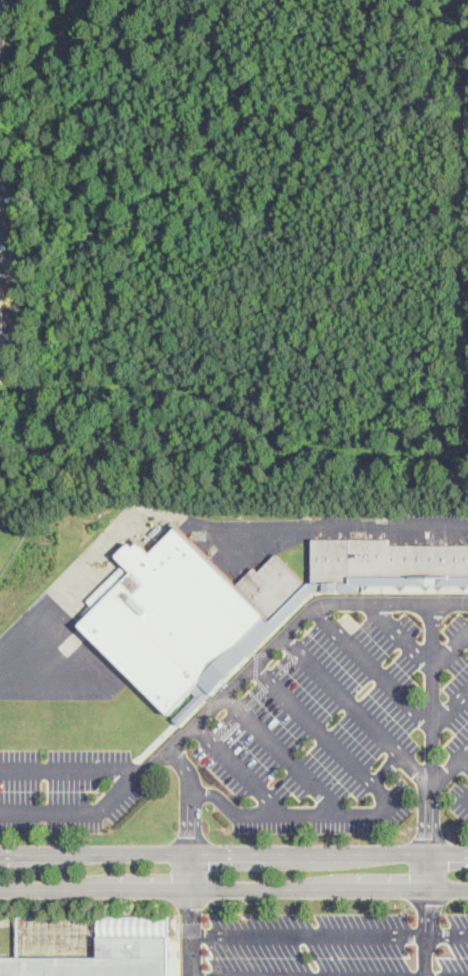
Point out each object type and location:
building: (3, 47)
building: (1, 305)
road: (203, 524)
building: (336, 564)
building: (411, 564)
building: (275, 588)
building: (175, 622)
road: (280, 634)
road: (419, 654)
road: (369, 667)
road: (449, 707)
road: (355, 708)
parking lot: (347, 724)
road: (429, 746)
road: (280, 752)
road: (463, 759)
road: (448, 764)
road: (386, 767)
road: (131, 779)
parking lot: (66, 789)
road: (233, 809)
road: (371, 809)
road: (191, 812)
road: (234, 852)
road: (234, 888)
road: (201, 901)
road: (226, 901)
road: (329, 931)
road: (192, 932)
road: (427, 932)
building: (133, 944)
parking lot: (336, 946)
building: (86, 965)
road: (329, 975)

